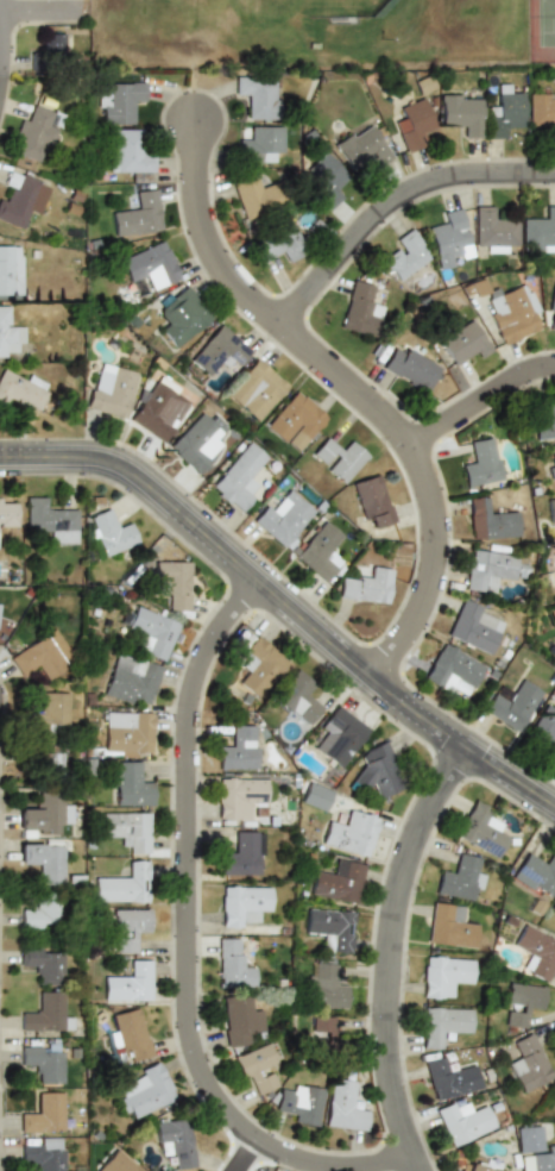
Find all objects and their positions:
road: (39, 8)
park: (541, 31)
building: (52, 45)
building: (258, 96)
building: (115, 101)
building: (542, 111)
building: (460, 112)
building: (504, 113)
building: (411, 124)
building: (32, 134)
building: (258, 143)
building: (360, 146)
building: (128, 154)
building: (323, 180)
building: (253, 195)
building: (21, 198)
road: (393, 202)
building: (137, 214)
building: (491, 231)
building: (538, 232)
building: (447, 237)
building: (278, 243)
building: (404, 255)
building: (150, 267)
building: (10, 270)
building: (357, 307)
building: (511, 312)
building: (550, 313)
building: (179, 314)
building: (8, 333)
building: (462, 342)
building: (217, 351)
building: (411, 369)
road: (351, 388)
building: (21, 390)
building: (111, 390)
building: (254, 390)
road: (479, 403)
building: (160, 409)
building: (295, 419)
building: (543, 420)
building: (197, 442)
building: (339, 458)
building: (550, 461)
building: (480, 462)
building: (238, 477)
building: (372, 502)
building: (550, 511)
building: (5, 514)
building: (282, 519)
building: (490, 519)
building: (51, 520)
building: (109, 532)
building: (320, 551)
building: (554, 569)
building: (487, 570)
building: (172, 583)
building: (366, 585)
road: (284, 608)
building: (474, 626)
building: (150, 632)
building: (38, 657)
building: (258, 665)
building: (450, 670)
building: (131, 680)
building: (298, 700)
building: (511, 705)
building: (49, 712)
building: (545, 722)
building: (126, 733)
building: (338, 735)
building: (236, 749)
building: (42, 764)
building: (377, 771)
building: (127, 784)
building: (238, 796)
building: (314, 796)
building: (42, 815)
building: (125, 829)
building: (480, 831)
building: (349, 833)
building: (242, 854)
building: (40, 858)
building: (536, 875)
building: (459, 878)
building: (335, 882)
building: (120, 884)
road: (195, 893)
building: (240, 906)
building: (553, 907)
building: (37, 909)
building: (449, 926)
building: (329, 927)
building: (126, 928)
building: (535, 952)
road: (402, 959)
building: (40, 964)
building: (231, 964)
building: (443, 976)
building: (126, 982)
building: (324, 985)
building: (521, 1003)
building: (44, 1014)
building: (236, 1020)
building: (442, 1025)
building: (127, 1034)
building: (322, 1035)
building: (40, 1063)
building: (525, 1063)
building: (253, 1069)
building: (449, 1078)
building: (141, 1091)
building: (299, 1102)
building: (342, 1106)
building: (42, 1113)
building: (461, 1121)
building: (171, 1141)
building: (532, 1150)
building: (40, 1153)
building: (114, 1163)
road: (260, 1163)
building: (480, 1164)

